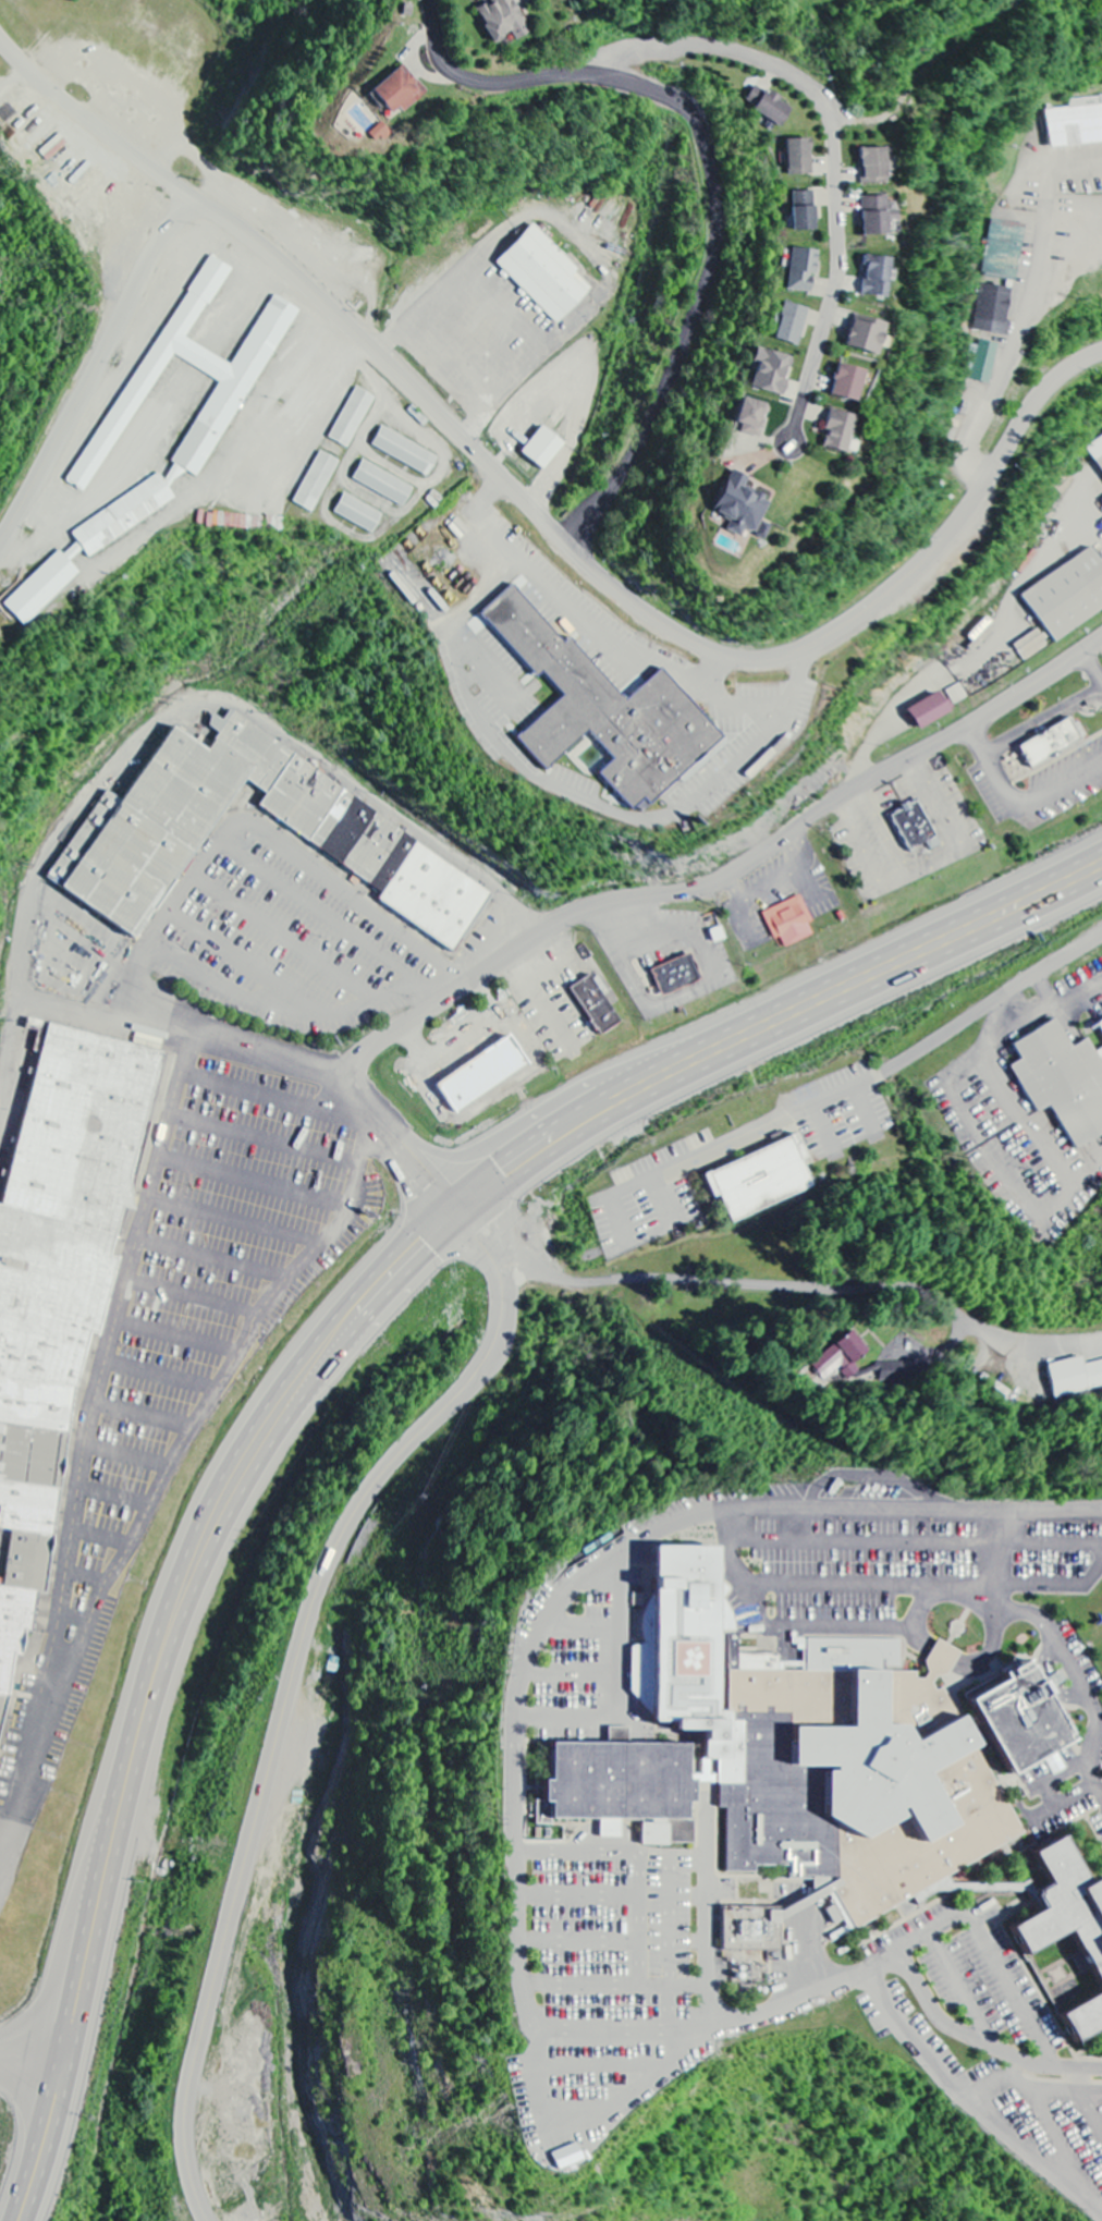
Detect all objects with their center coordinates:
building: (502, 20)
building: (399, 91)
building: (1101, 97)
building: (768, 106)
road: (94, 125)
building: (1075, 125)
building: (800, 157)
building: (876, 166)
road: (713, 184)
building: (805, 211)
building: (878, 216)
building: (1006, 251)
building: (804, 270)
building: (544, 274)
building: (877, 278)
building: (995, 310)
building: (792, 325)
building: (867, 335)
building: (985, 362)
building: (772, 373)
building: (848, 383)
road: (1032, 404)
building: (352, 418)
building: (752, 418)
road: (441, 419)
building: (215, 423)
building: (840, 431)
building: (543, 449)
building: (405, 452)
building: (1097, 452)
building: (316, 483)
building: (383, 484)
building: (743, 507)
building: (358, 514)
building: (1068, 597)
building: (600, 709)
building: (929, 712)
building: (1046, 737)
building: (910, 822)
building: (134, 846)
road: (690, 887)
building: (789, 923)
building: (673, 971)
building: (597, 1006)
building: (1101, 1025)
road: (880, 1040)
building: (1063, 1082)
building: (760, 1180)
road: (449, 1219)
building: (58, 1278)
road: (810, 1286)
road: (945, 1344)
building: (843, 1359)
building: (1075, 1377)
power tower: (844, 1488)
road: (1060, 1510)
road: (1001, 1553)
road: (955, 1592)
road: (915, 1621)
road: (304, 1630)
road: (990, 1648)
road: (527, 1652)
helipad: (695, 1656)
road: (939, 1658)
building: (1021, 1717)
building: (793, 1754)
building: (1066, 1905)
building: (751, 1929)
road: (705, 1937)
road: (841, 1976)
building: (1086, 2018)
road: (979, 2042)
road: (63, 2043)
building: (567, 2158)

